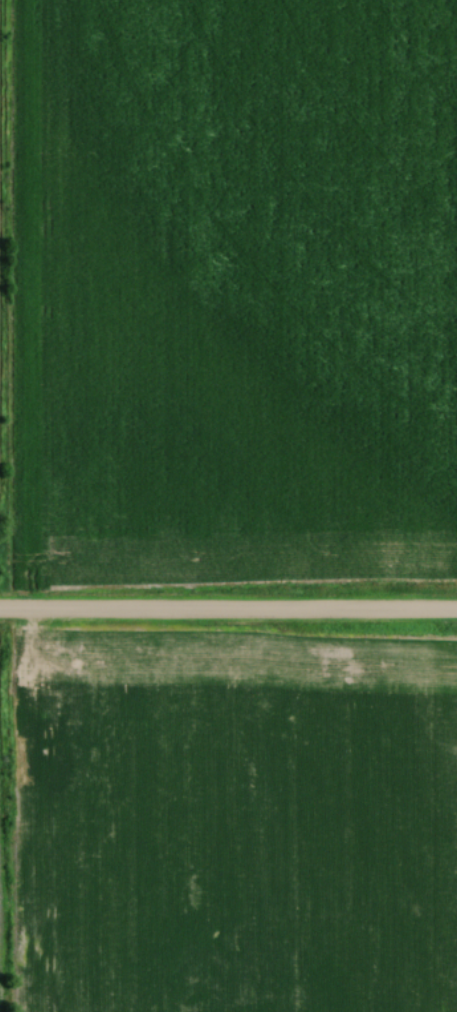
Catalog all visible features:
road: (228, 614)

